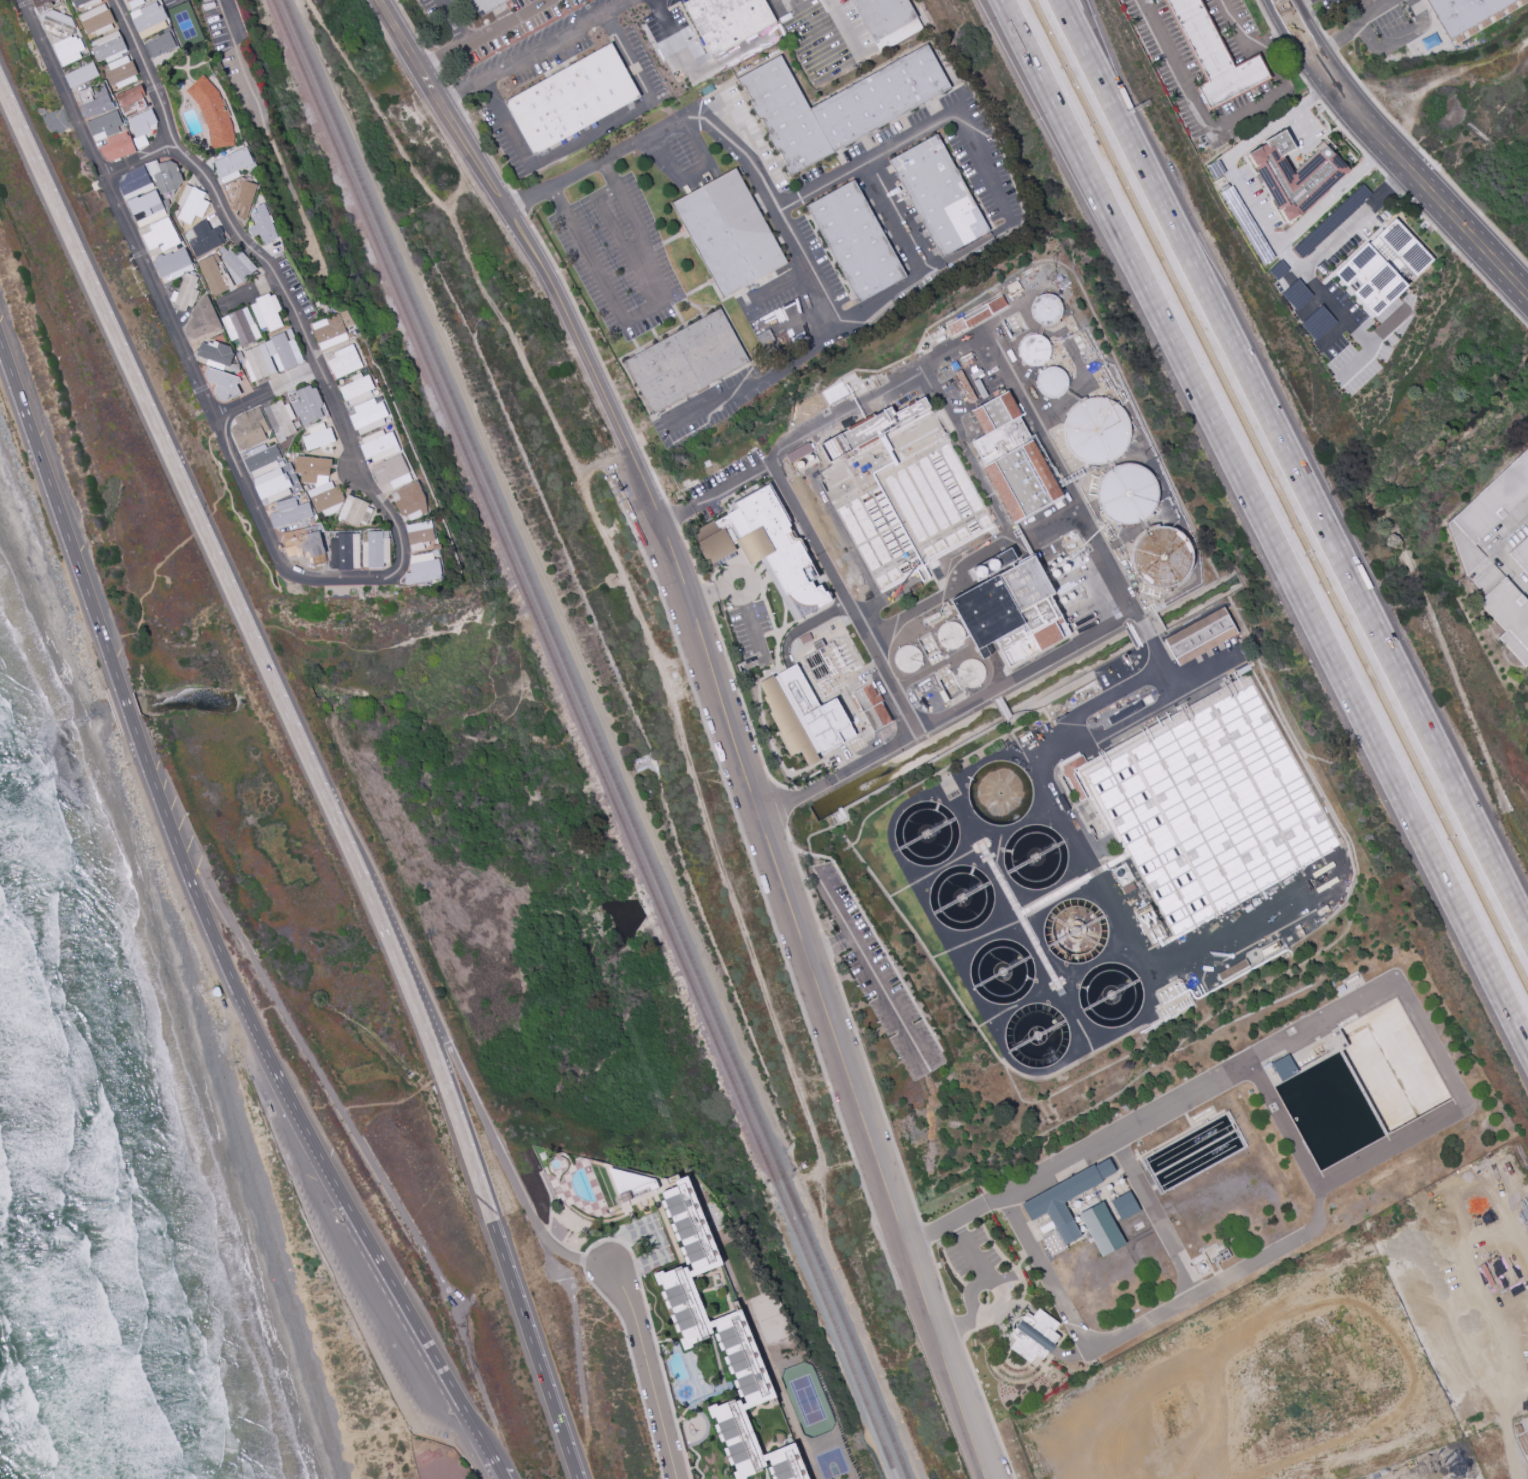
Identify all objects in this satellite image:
building: (38, 2)
building: (78, 2)
parking lot: (1324, 2)
building: (133, 3)
road: (1306, 4)
building: (485, 5)
road: (1295, 5)
road: (1010, 8)
building: (1463, 13)
road: (1264, 15)
road: (1364, 15)
building: (95, 18)
building: (148, 19)
road: (452, 21)
building: (727, 21)
building: (886, 21)
building: (57, 22)
road: (1317, 23)
parking lot: (1383, 24)
road: (843, 26)
road: (411, 27)
road: (1296, 30)
road: (484, 35)
road: (1277, 35)
road: (1276, 36)
road: (1397, 39)
building: (160, 44)
road: (1329, 46)
road: (1331, 46)
building: (108, 47)
road: (1250, 48)
building: (68, 49)
road: (535, 50)
building: (1213, 55)
road: (240, 61)
road: (432, 62)
road: (1295, 66)
road: (699, 69)
building: (120, 72)
parking lot: (1180, 72)
building: (80, 75)
road: (441, 76)
road: (1443, 76)
road: (1113, 82)
building: (707, 90)
road: (451, 92)
road: (1316, 96)
building: (129, 99)
building: (880, 99)
building: (571, 100)
road: (1194, 100)
building: (96, 102)
building: (785, 117)
building: (104, 126)
building: (141, 126)
road: (1343, 129)
road: (593, 134)
building: (117, 146)
road: (483, 147)
road: (137, 161)
parking lot: (682, 161)
road: (1370, 161)
road: (1429, 162)
building: (232, 164)
road: (985, 166)
road: (691, 171)
road: (1381, 172)
building: (1321, 173)
building: (165, 176)
building: (133, 180)
road: (1417, 182)
road: (490, 183)
road: (1394, 186)
building: (239, 196)
building: (939, 196)
road: (518, 203)
building: (191, 204)
road: (777, 205)
road: (1253, 205)
building: (146, 208)
road: (608, 218)
road: (897, 218)
building: (262, 225)
building: (728, 234)
building: (160, 235)
building: (204, 239)
building: (856, 242)
parking lot: (618, 256)
road: (1290, 257)
road: (1319, 257)
road: (1464, 261)
building: (172, 265)
building: (237, 265)
building: (1383, 268)
road: (266, 271)
building: (211, 275)
road: (781, 288)
building: (184, 293)
road: (244, 293)
road: (643, 310)
building: (1046, 310)
storage tank: (1046, 310)
building: (266, 312)
building: (976, 314)
building: (200, 321)
road: (1386, 324)
building: (240, 326)
building: (328, 331)
road: (1333, 332)
road: (180, 346)
building: (1034, 350)
storage tank: (1034, 350)
building: (214, 354)
building: (270, 357)
road: (599, 359)
building: (342, 361)
building: (686, 362)
road: (1355, 362)
building: (969, 378)
building: (1052, 382)
storage tank: (1052, 382)
building: (222, 383)
building: (356, 390)
road: (265, 395)
building: (306, 405)
road: (1029, 408)
building: (368, 416)
building: (279, 419)
building: (880, 425)
building: (249, 429)
building: (1097, 431)
storage tank: (1097, 431)
road: (621, 433)
building: (317, 436)
building: (377, 446)
building: (799, 452)
building: (1014, 457)
road: (603, 464)
road: (1295, 466)
building: (391, 473)
building: (266, 474)
building: (317, 481)
road: (717, 493)
building: (1127, 494)
storage tank: (1127, 494)
building: (1488, 510)
building: (354, 511)
building: (289, 512)
road: (60, 514)
road: (674, 521)
road: (1271, 528)
building: (419, 532)
road: (1009, 533)
building: (302, 542)
building: (766, 547)
road: (1492, 548)
building: (377, 549)
building: (343, 550)
building: (1521, 555)
building: (1163, 557)
storage tank: (1163, 557)
road: (692, 563)
building: (422, 568)
road: (731, 572)
building: (1031, 594)
road: (707, 595)
road: (630, 596)
road: (705, 596)
road: (884, 597)
building: (1506, 611)
building: (987, 612)
road: (753, 632)
building: (1050, 634)
building: (950, 636)
storage tank: (950, 636)
building: (1201, 636)
building: (805, 638)
building: (818, 644)
building: (1017, 645)
road: (777, 658)
building: (907, 659)
storage tank: (907, 659)
building: (1243, 669)
building: (971, 674)
storage tank: (971, 674)
building: (871, 706)
road: (128, 708)
road: (744, 709)
road: (113, 711)
building: (804, 716)
railway: (587, 738)
railway: (597, 738)
road: (312, 770)
building: (1000, 793)
storage tank: (1000, 793)
road: (778, 803)
building: (1205, 804)
building: (926, 833)
storage tank: (926, 833)
road: (745, 841)
building: (1036, 857)
storage tank: (1036, 857)
road: (184, 863)
road: (804, 882)
building: (1127, 889)
road: (787, 896)
building: (962, 900)
storage tank: (962, 900)
building: (1143, 914)
building: (1075, 931)
storage tank: (1075, 931)
road: (828, 942)
road: (828, 951)
road: (832, 952)
road: (871, 969)
building: (1232, 970)
building: (1001, 972)
storage tank: (1001, 972)
parking lot: (876, 977)
building: (216, 992)
building: (1110, 994)
storage tank: (1110, 994)
building: (1037, 1035)
storage tank: (1037, 1035)
road: (456, 1064)
road: (876, 1094)
road: (292, 1098)
building: (270, 1112)
road: (1443, 1120)
road: (1284, 1123)
road: (550, 1199)
building: (1065, 1201)
road: (977, 1205)
building: (1125, 1207)
road: (1154, 1212)
building: (1102, 1230)
road: (925, 1236)
road: (551, 1246)
road: (582, 1260)
road: (984, 1269)
parking lot: (977, 1277)
road: (940, 1282)
parking lot: (360, 1285)
road: (970, 1293)
road: (648, 1316)
park: (771, 1317)
road: (956, 1328)
road: (967, 1333)
building: (1032, 1335)
road: (424, 1336)
building: (719, 1341)
road: (577, 1350)
road: (1072, 1354)
road: (633, 1367)
road: (648, 1371)
road: (954, 1389)
park: (806, 1400)
road: (455, 1445)
building: (424, 1457)
park: (831, 1464)
road: (589, 1468)
road: (501, 1475)

